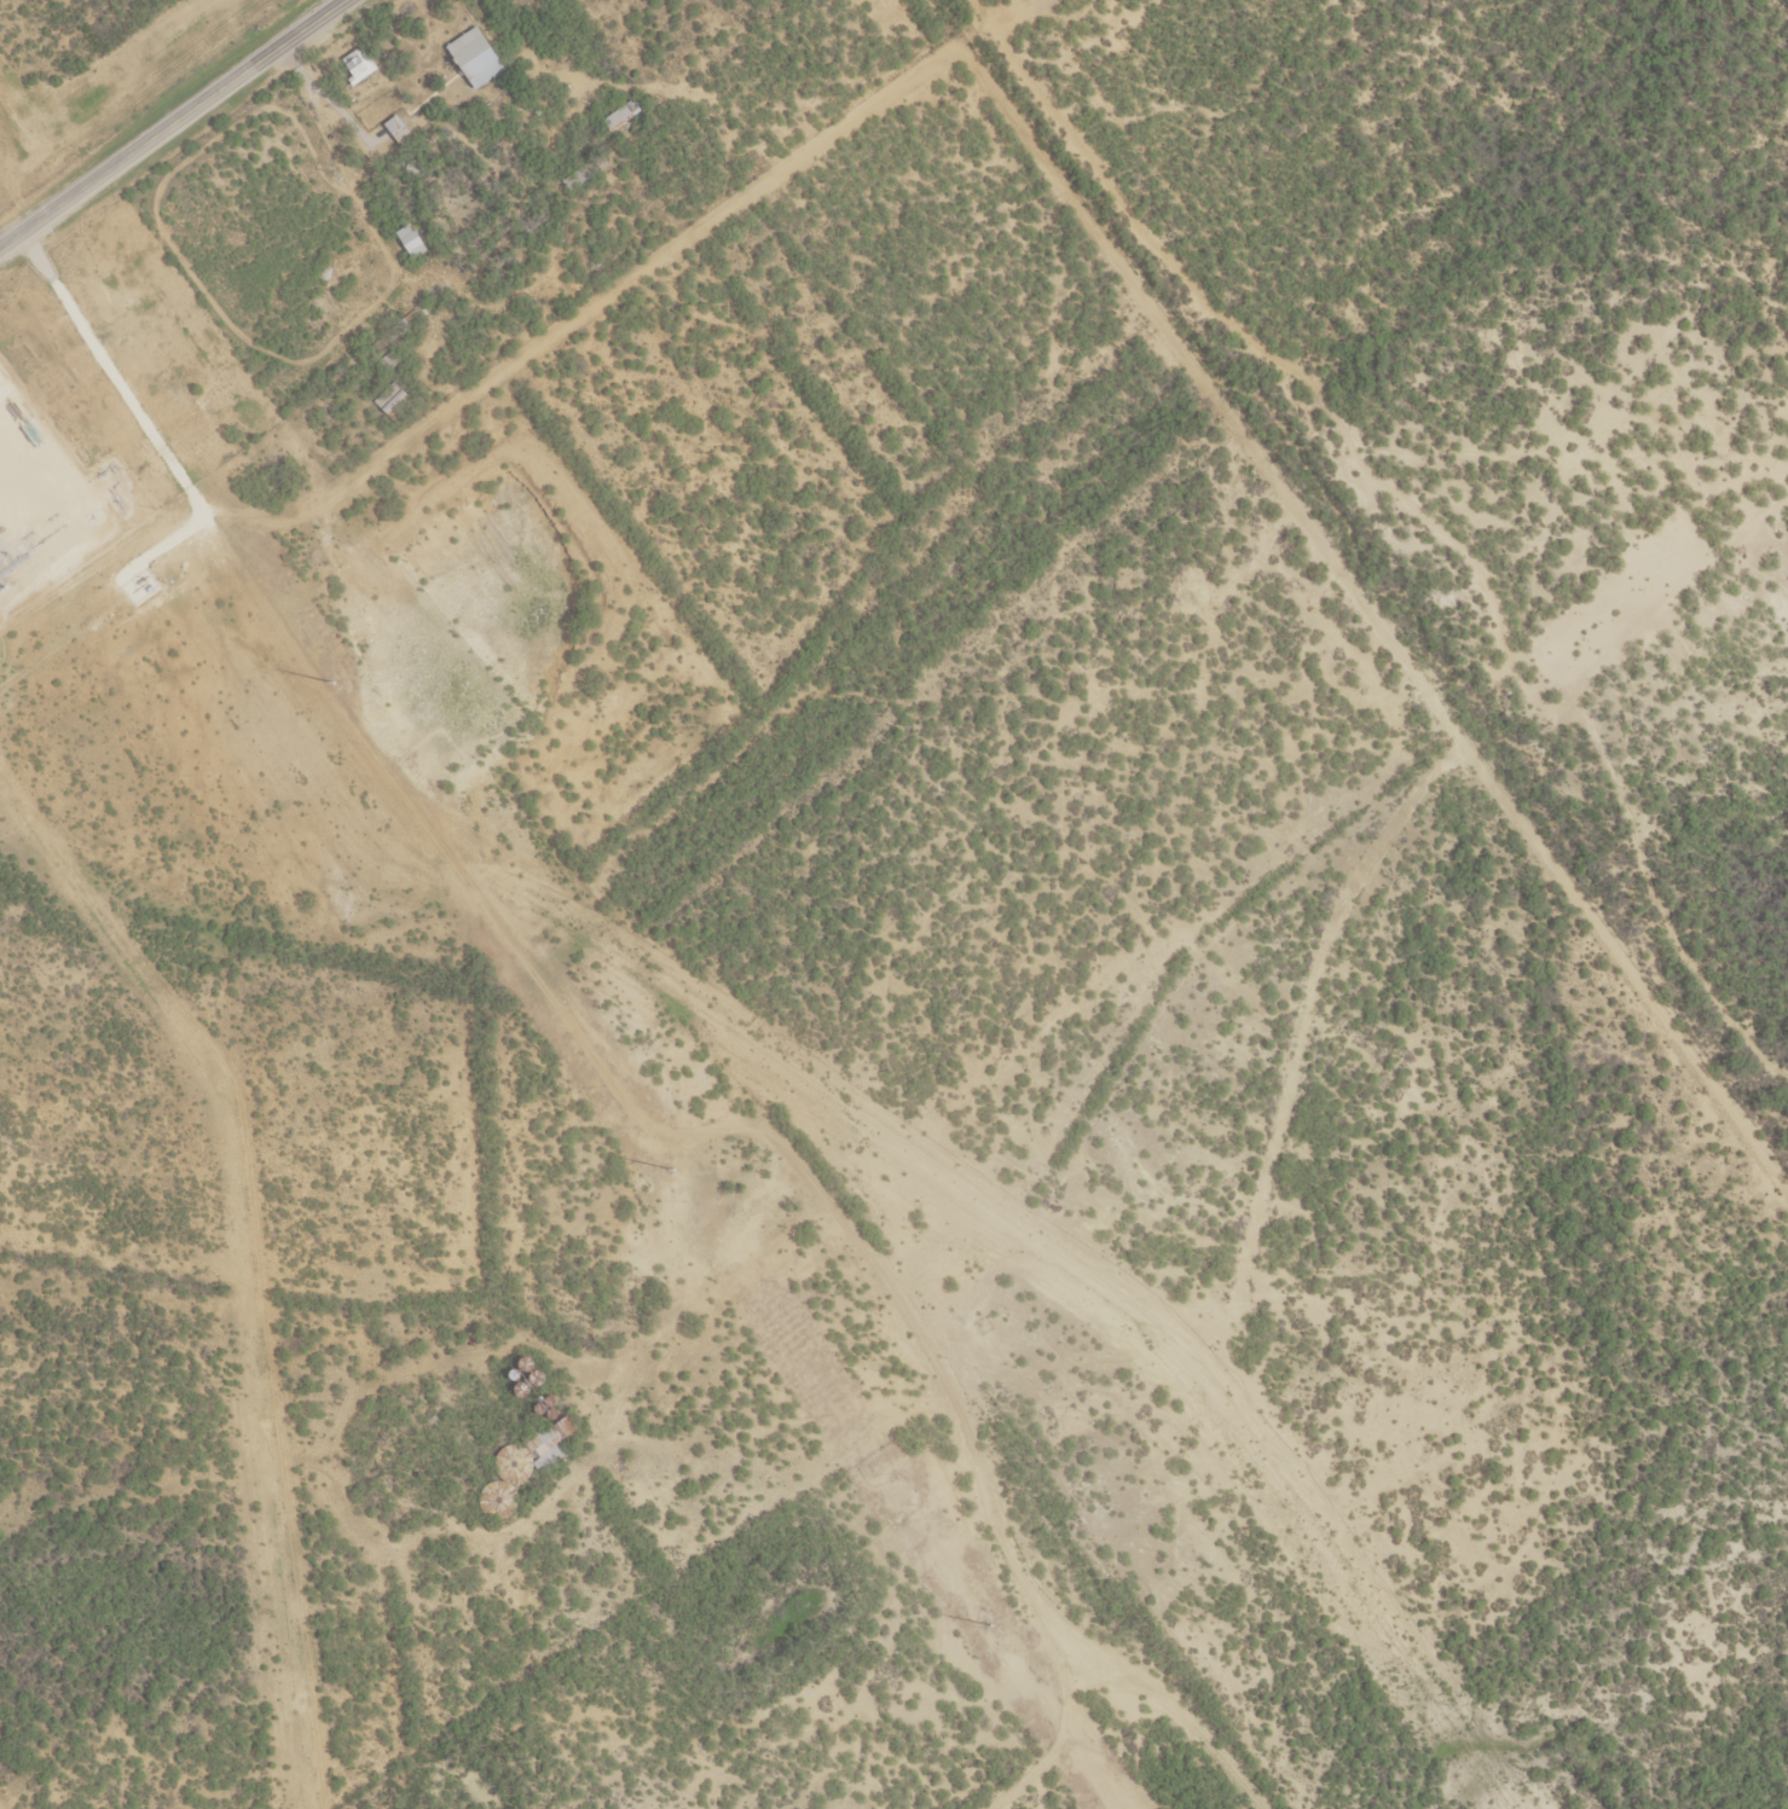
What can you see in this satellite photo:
building: (476, 57)
building: (359, 64)
building: (621, 114)
building: (399, 129)
road: (178, 131)
building: (411, 240)
building: (141, 254)
building: (201, 355)
road: (1171, 360)
building: (390, 399)
power tower: (334, 683)
road: (394, 712)
road: (1602, 970)
power tower: (673, 1170)
road: (971, 1212)
building: (555, 1442)
power tower: (990, 1625)

